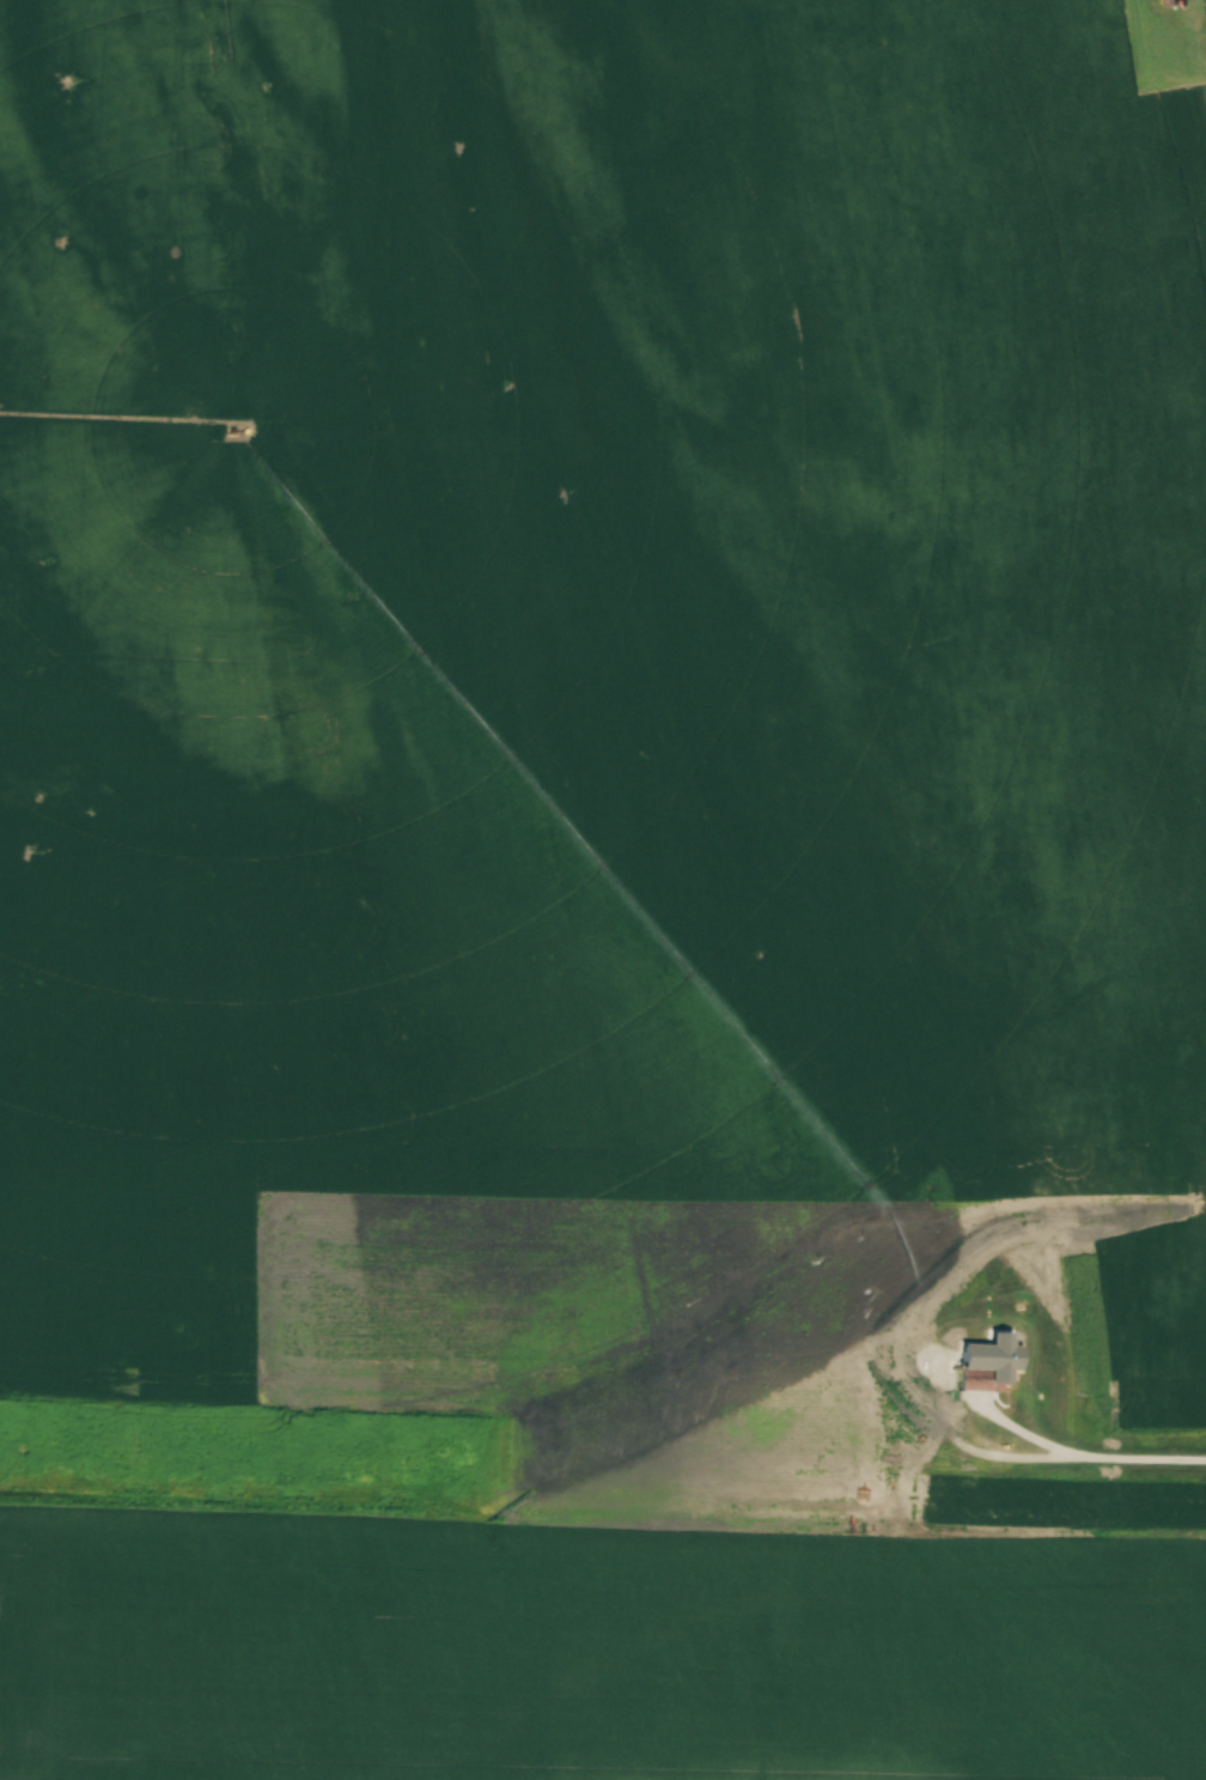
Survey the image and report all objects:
building: (988, 1354)

